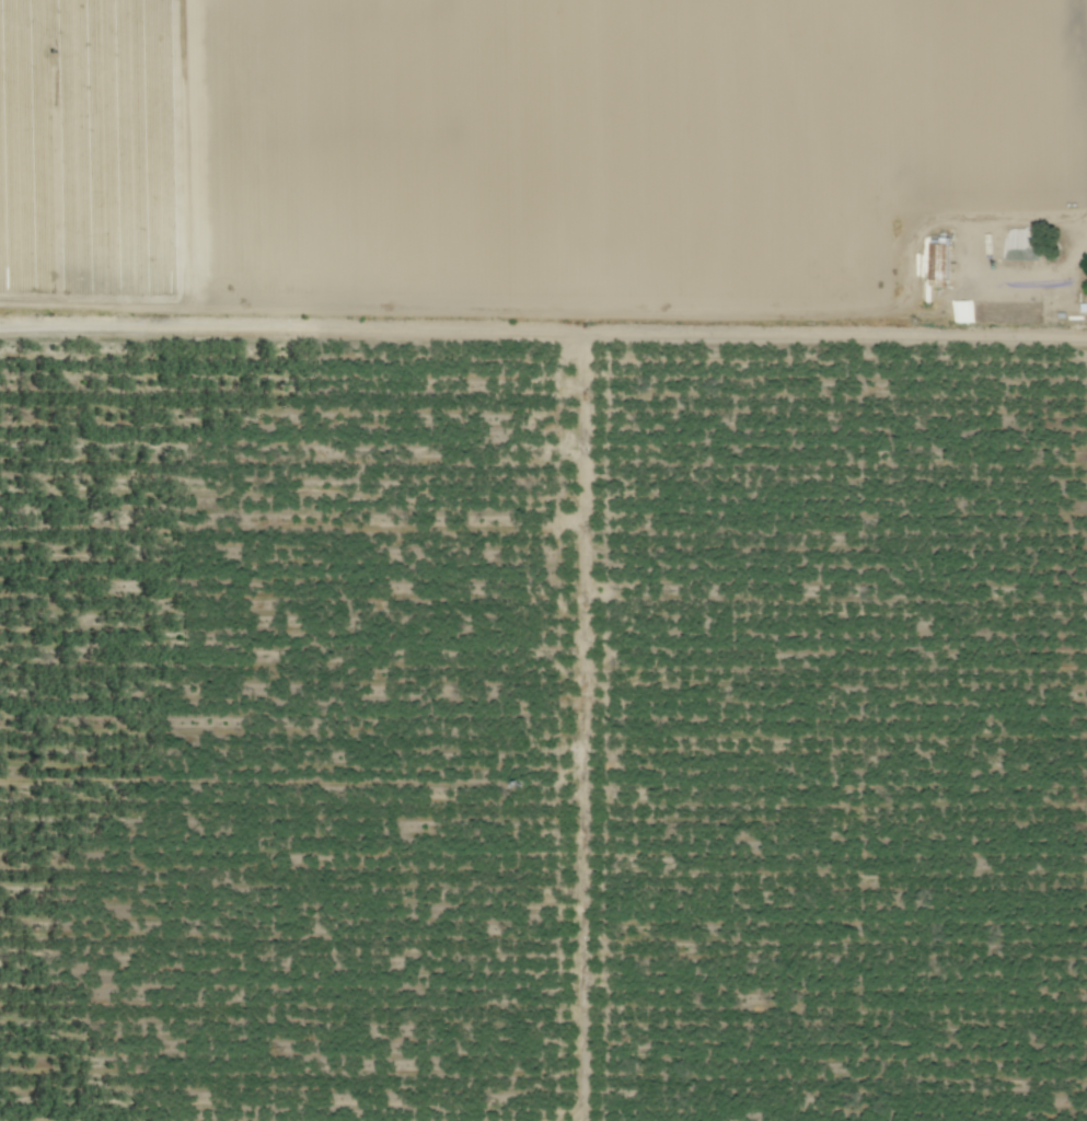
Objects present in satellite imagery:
building: (937, 262)
road: (564, 311)
building: (1004, 312)
road: (732, 336)

